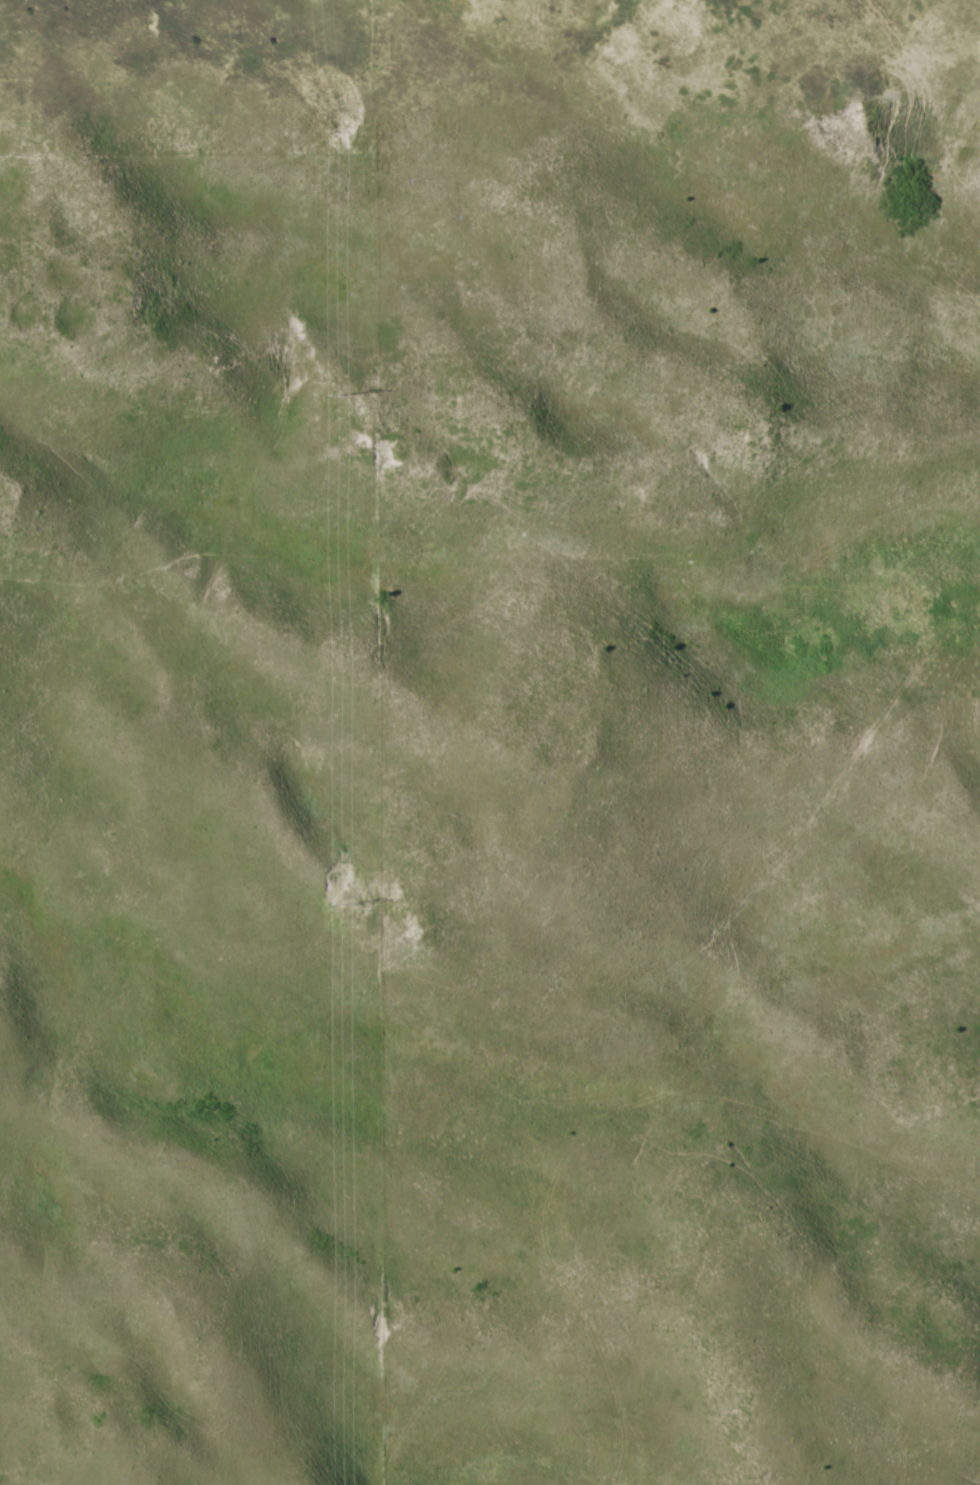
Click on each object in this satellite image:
power tower: (345, 397)
power tower: (348, 906)

